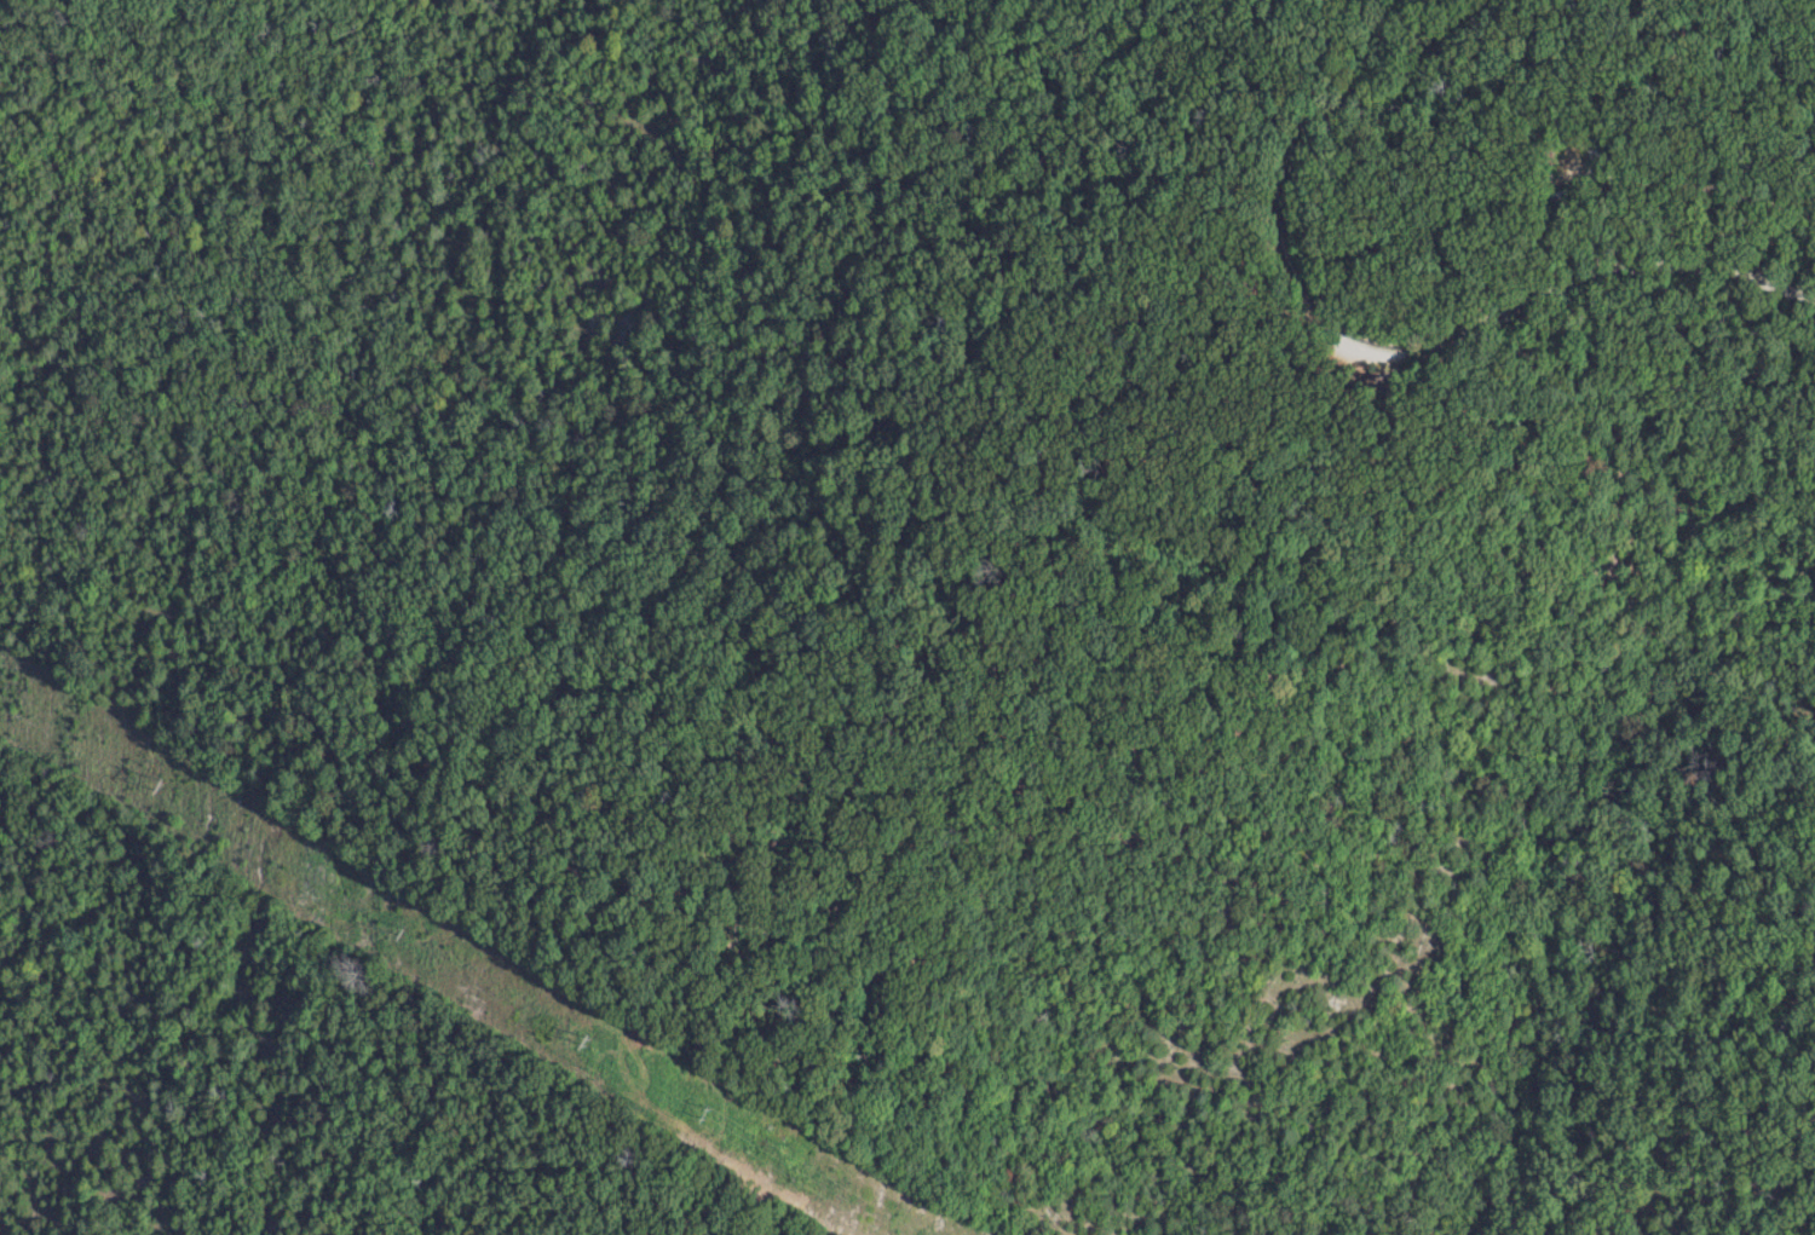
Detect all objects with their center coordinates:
power tower: (162, 789)
power tower: (592, 1044)
power tower: (710, 1115)

